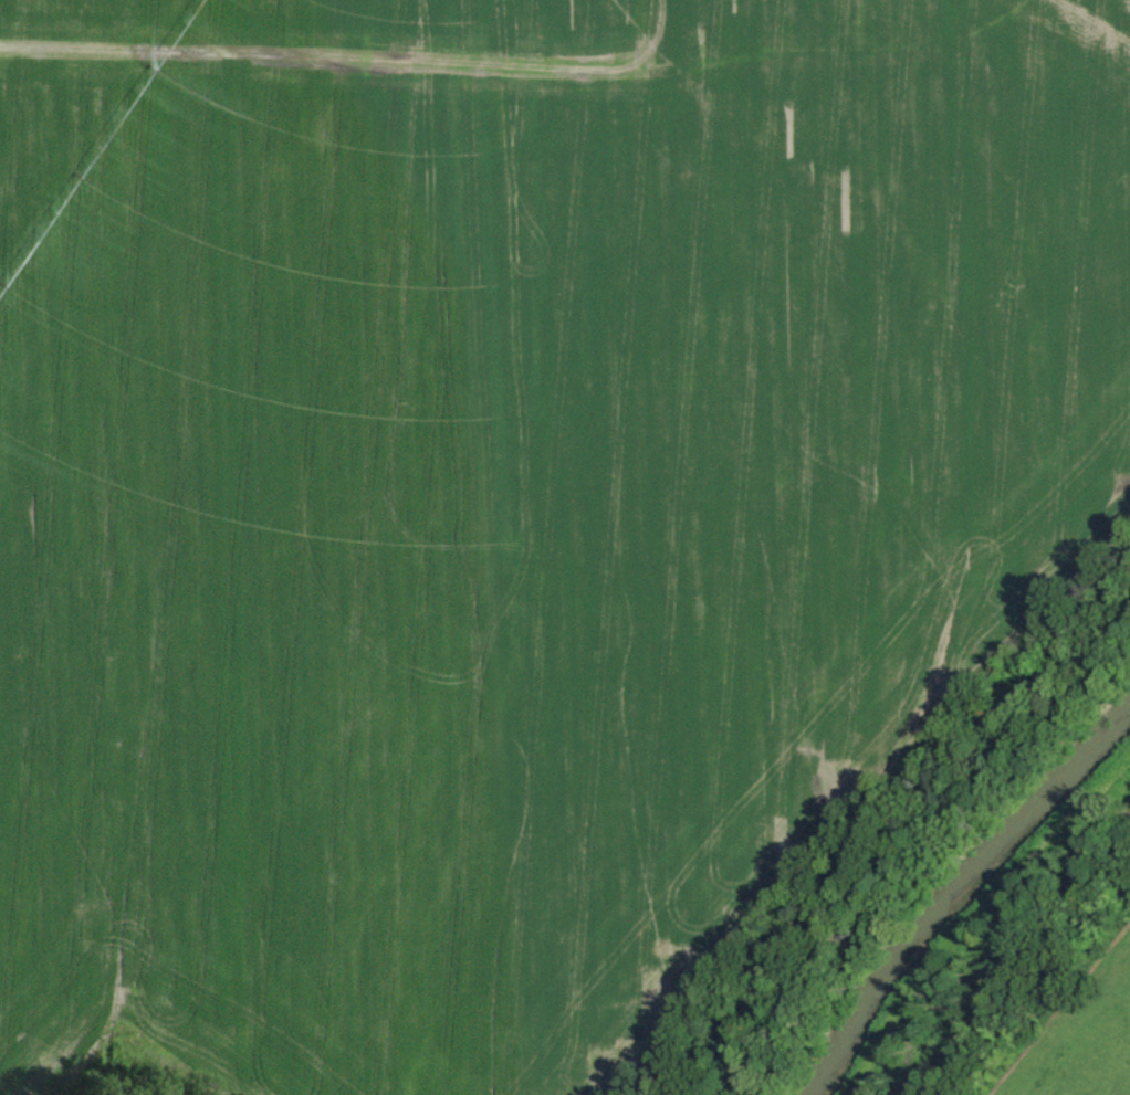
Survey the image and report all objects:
road: (359, 56)

